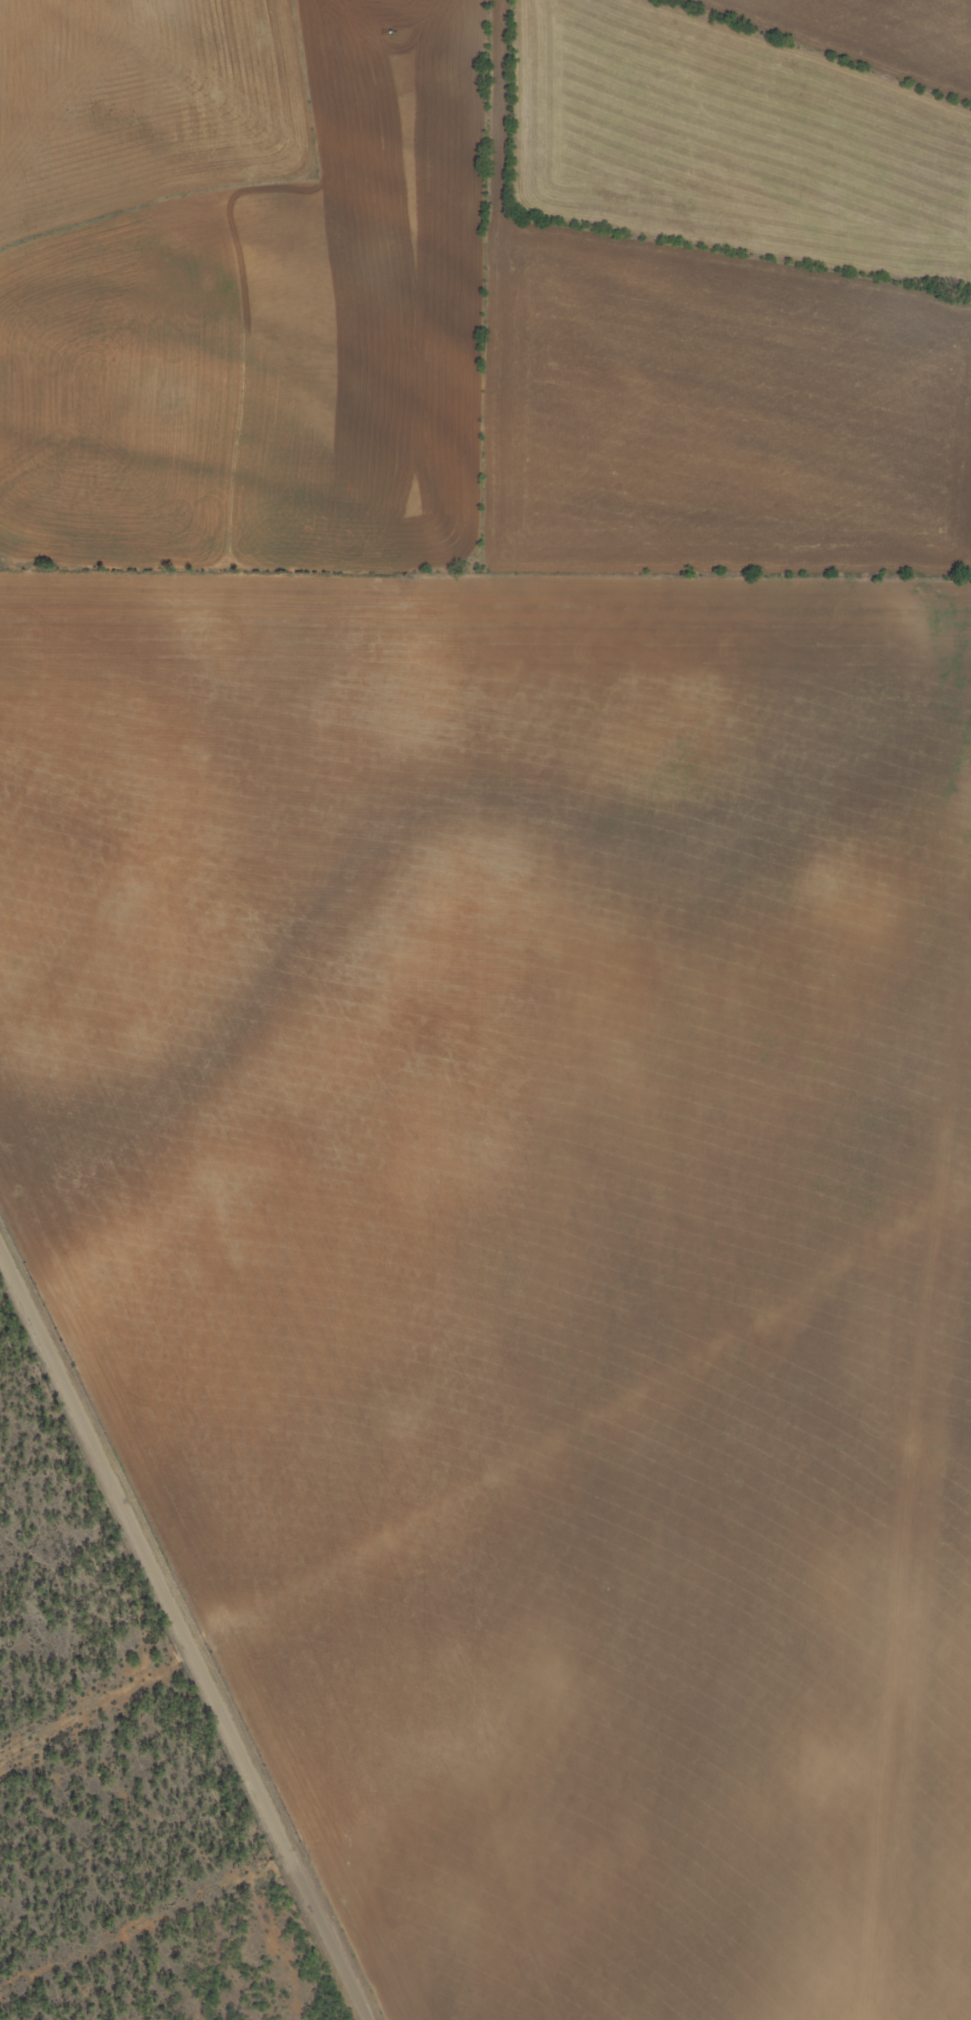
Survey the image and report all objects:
road: (164, 1665)
road: (133, 1926)

